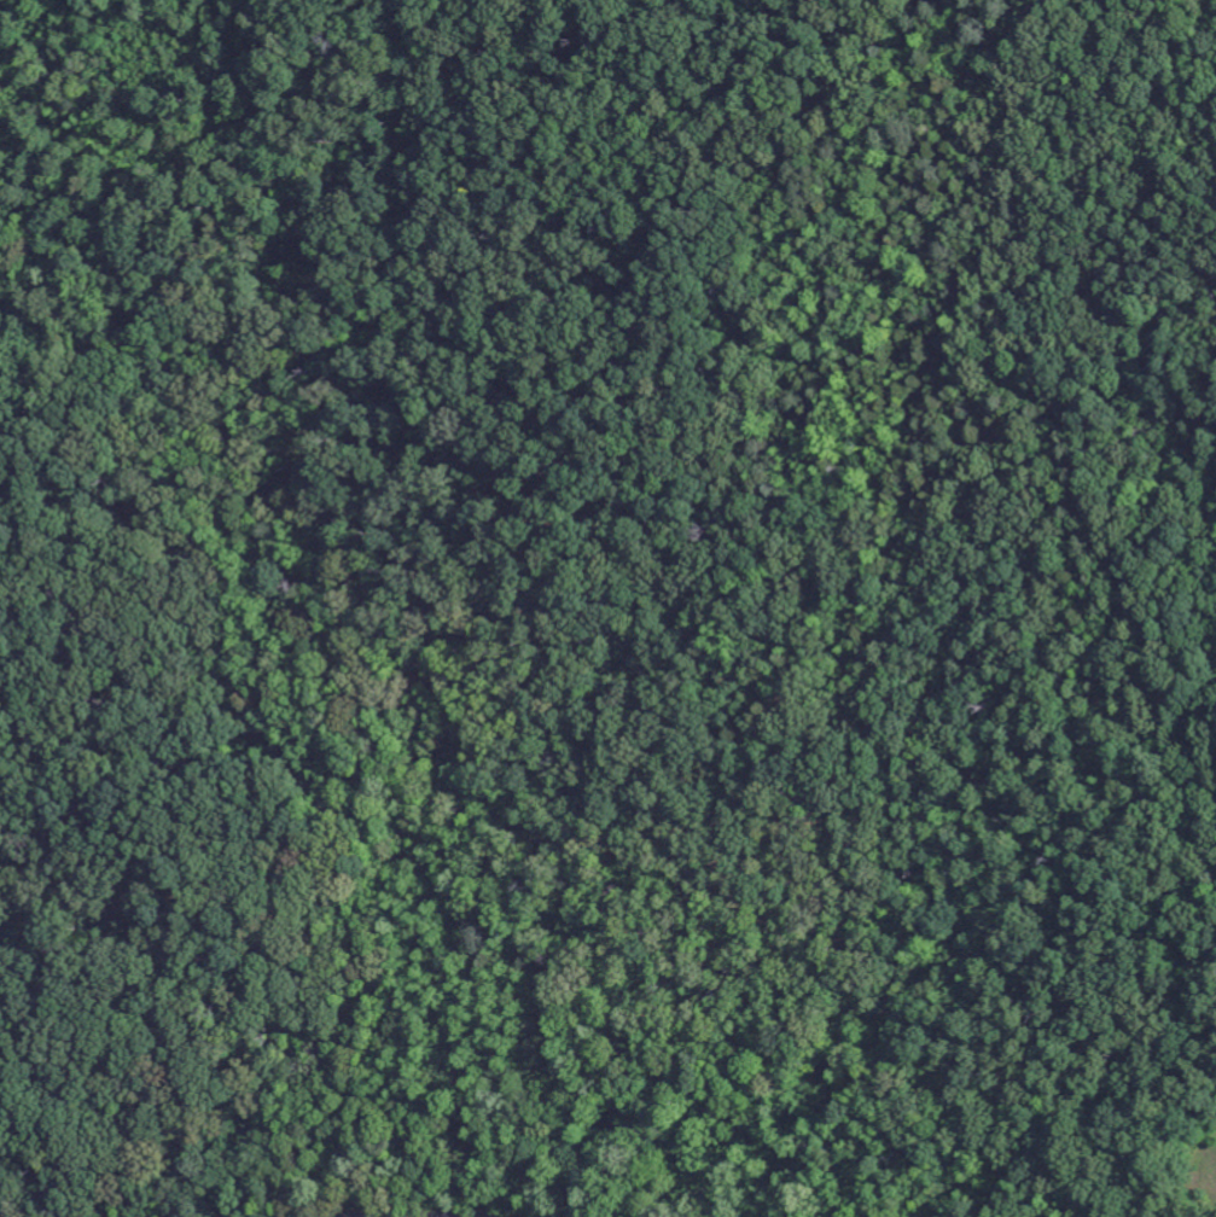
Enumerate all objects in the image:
road: (1152, 1093)

